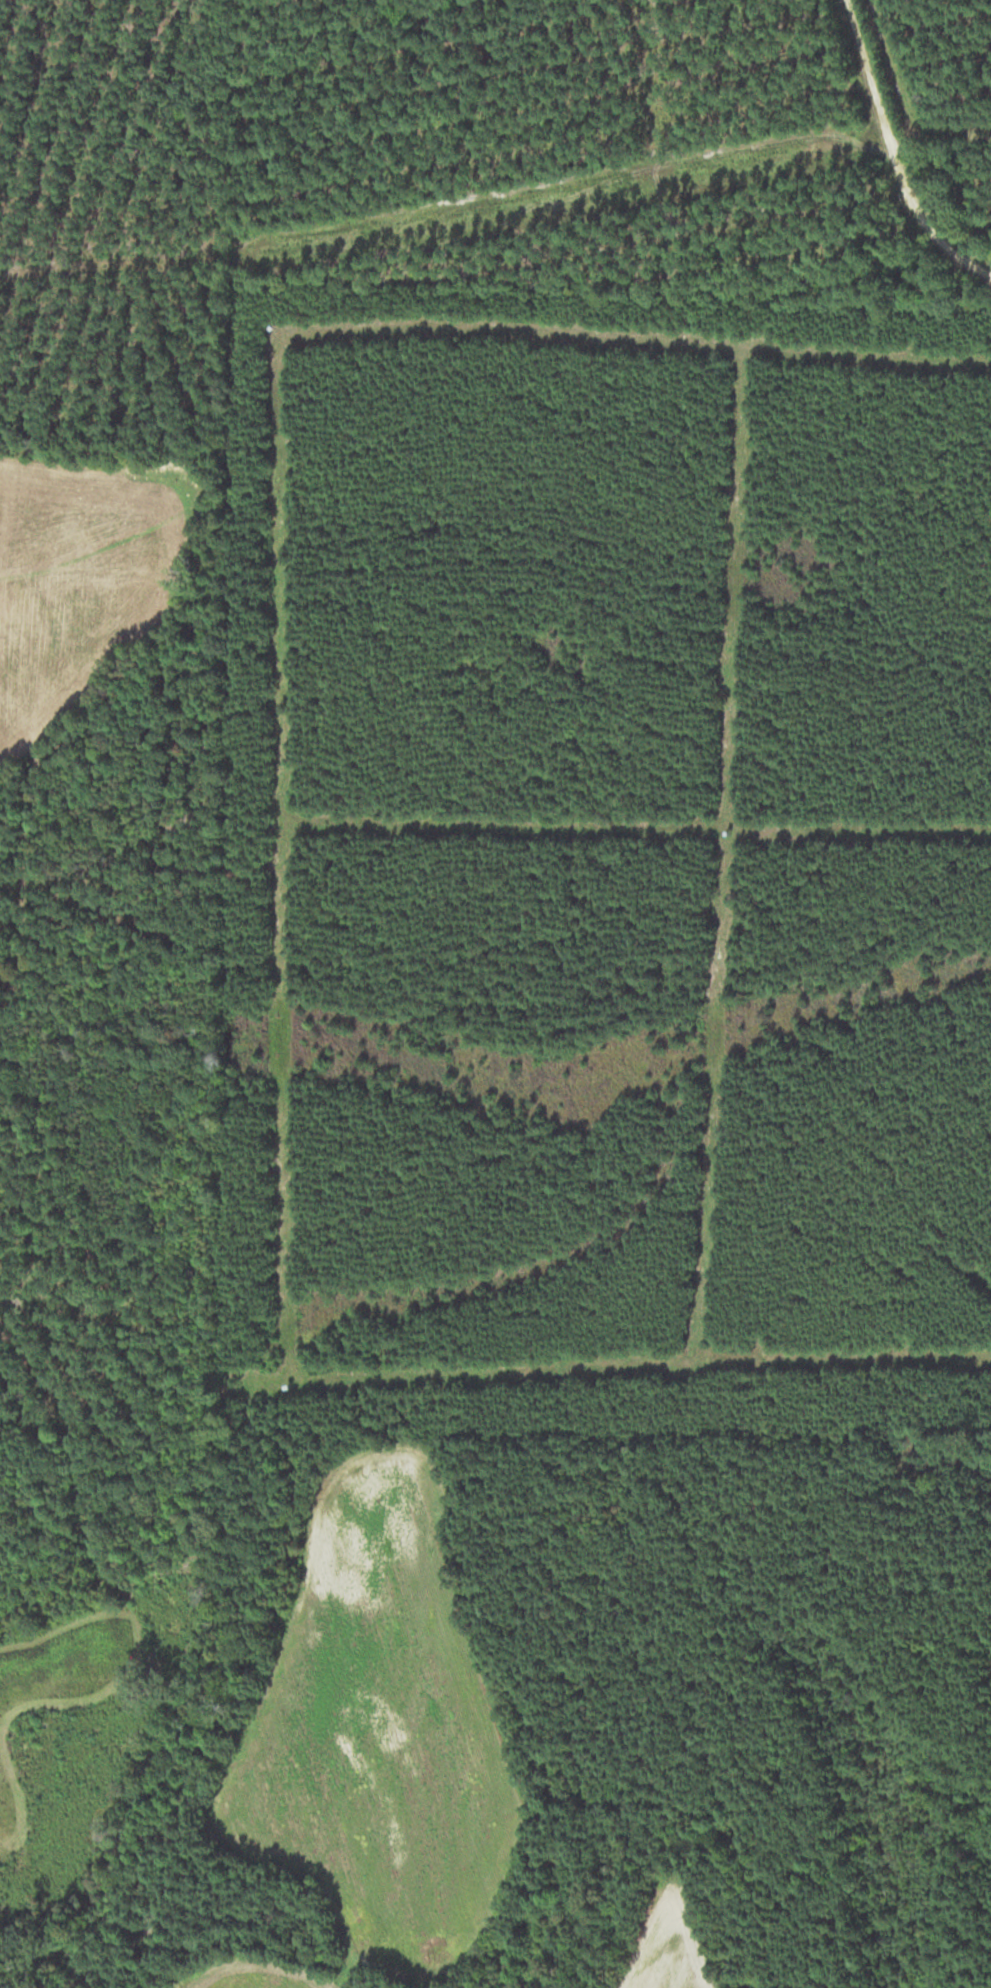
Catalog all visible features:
road: (894, 152)

